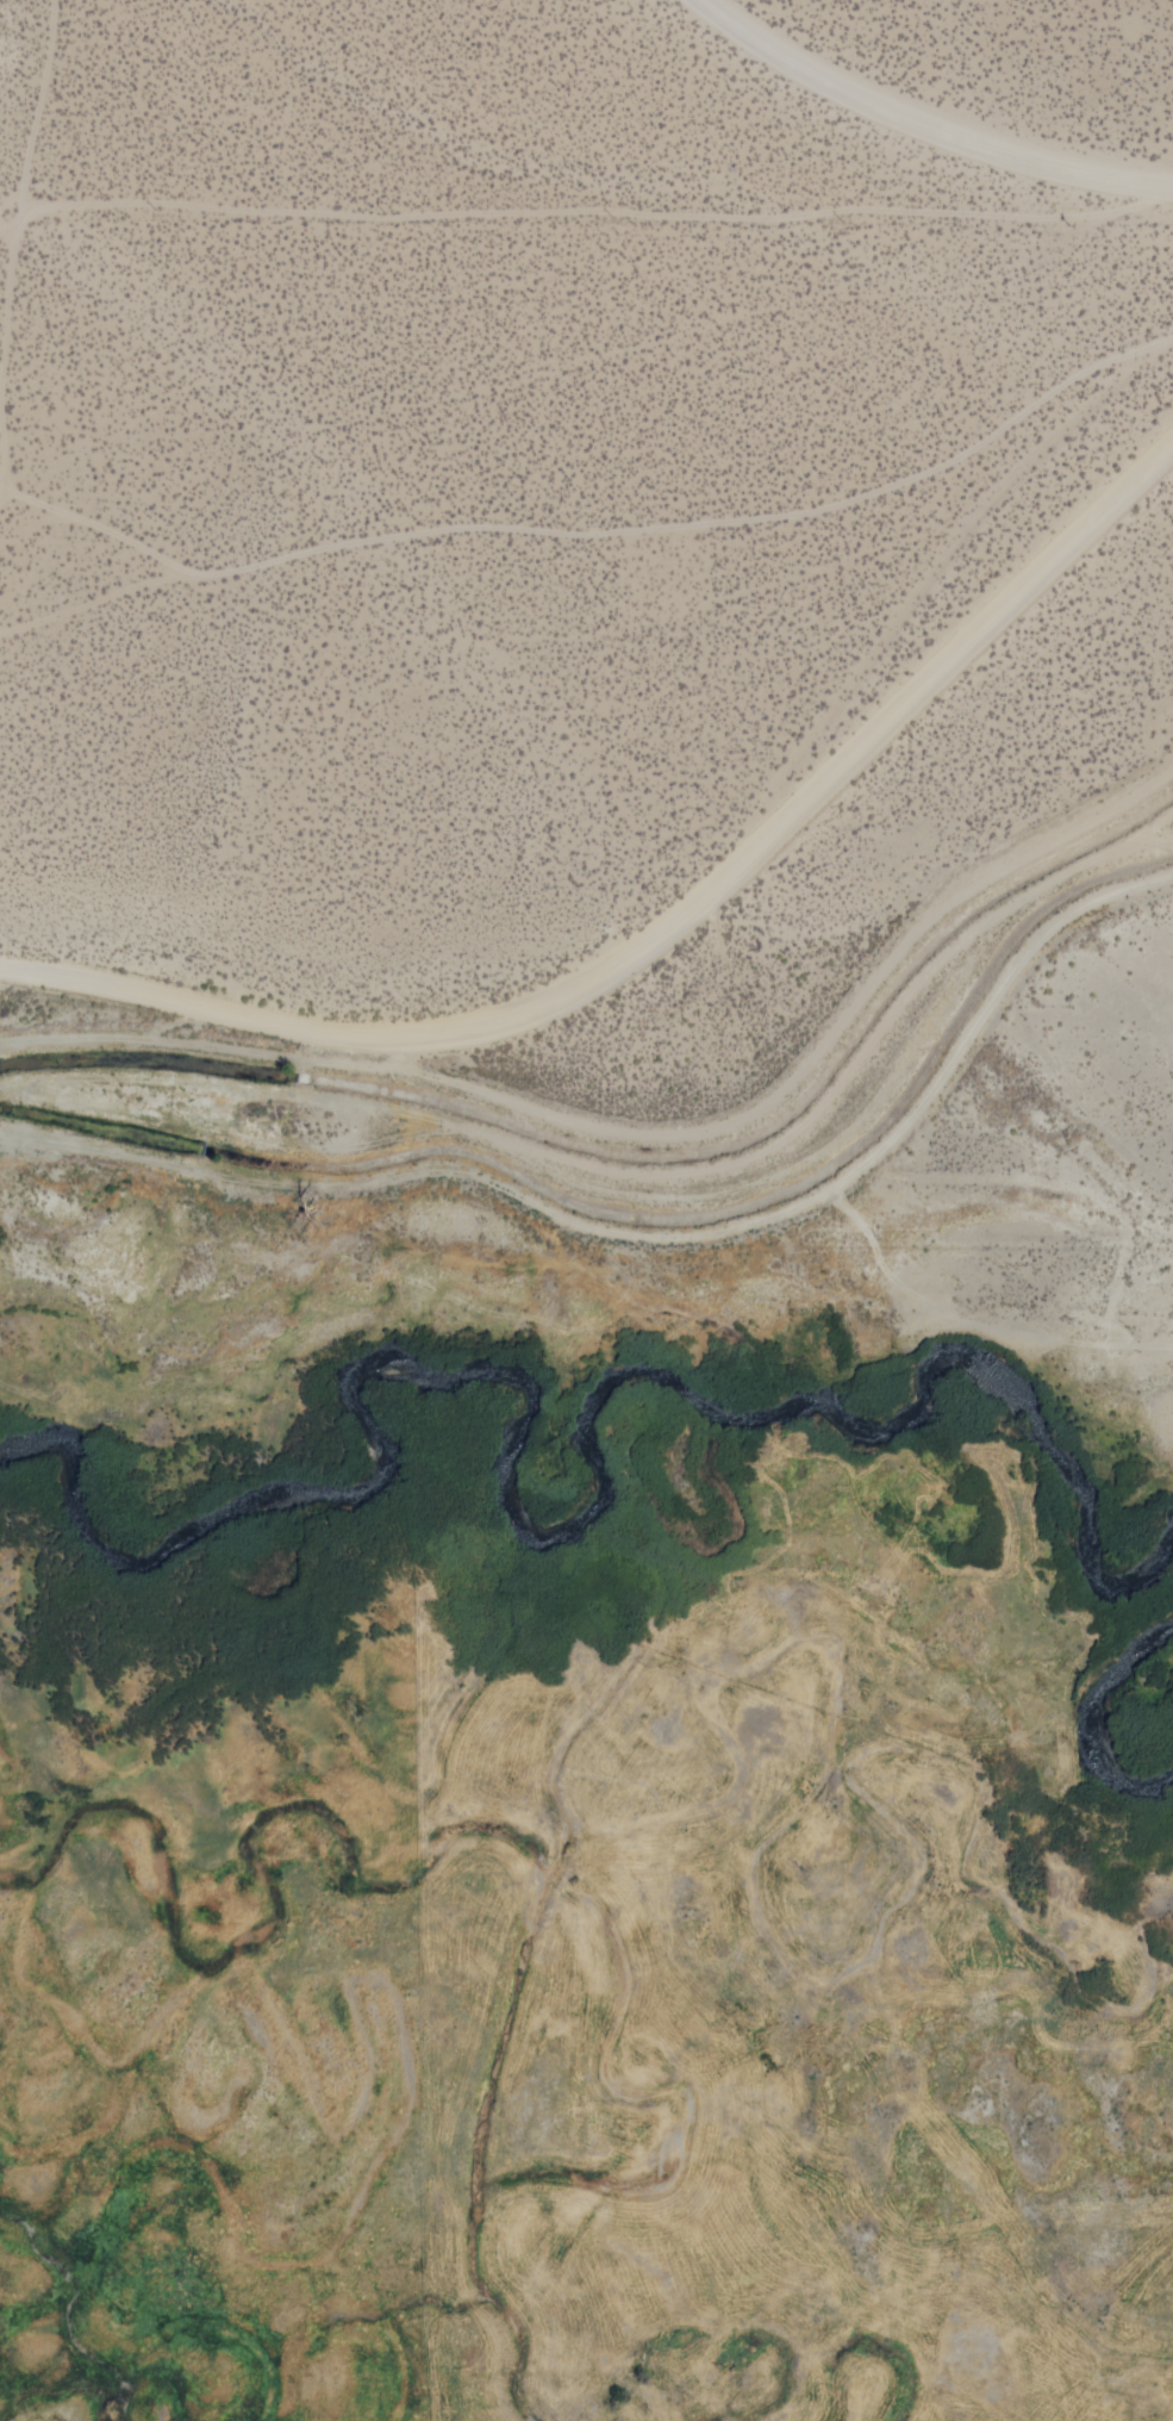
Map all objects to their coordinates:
road: (928, 122)
road: (17, 175)
road: (595, 216)
road: (5, 232)
road: (99, 529)
road: (601, 531)
road: (668, 931)
road: (357, 1050)
road: (647, 1134)
road: (649, 1236)
river: (598, 1423)
river: (1124, 1712)

